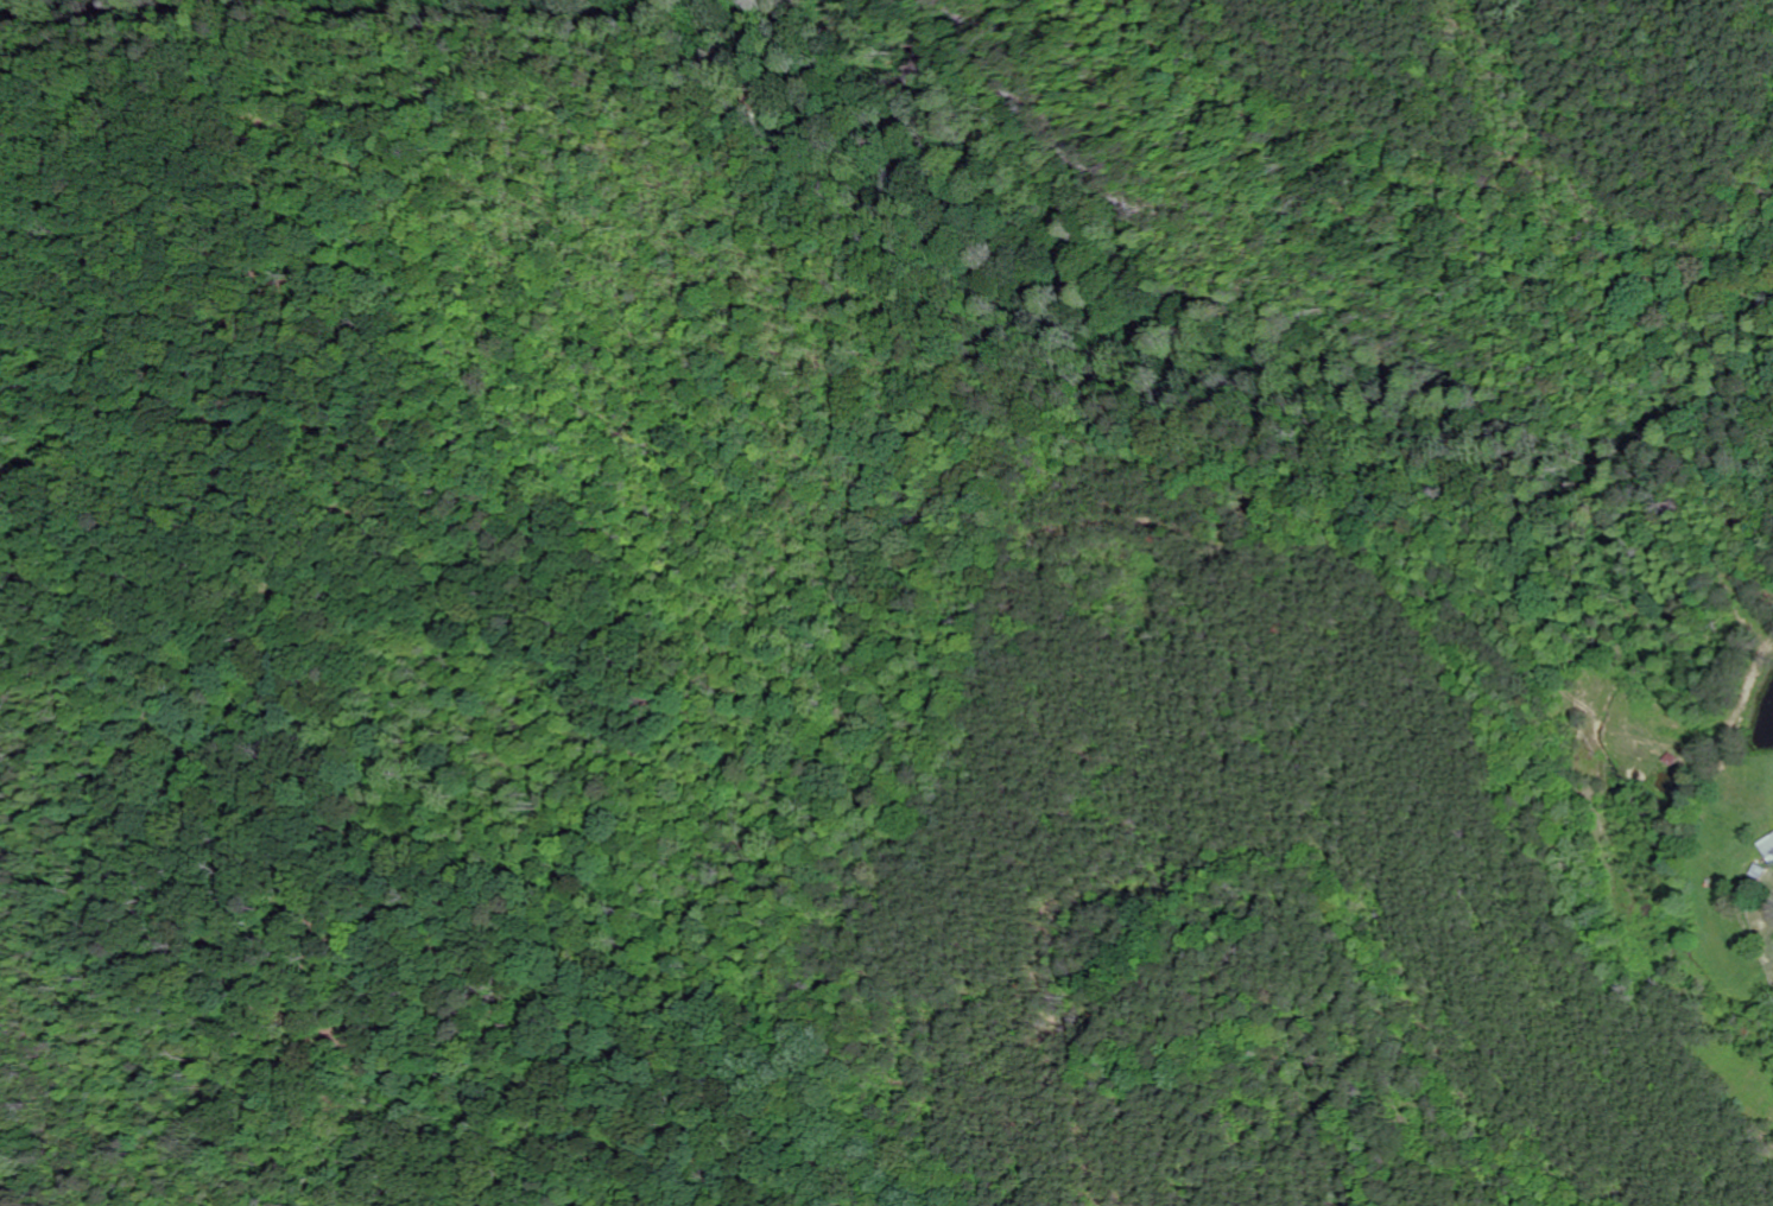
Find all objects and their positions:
park: (44, 659)
building: (1768, 848)

